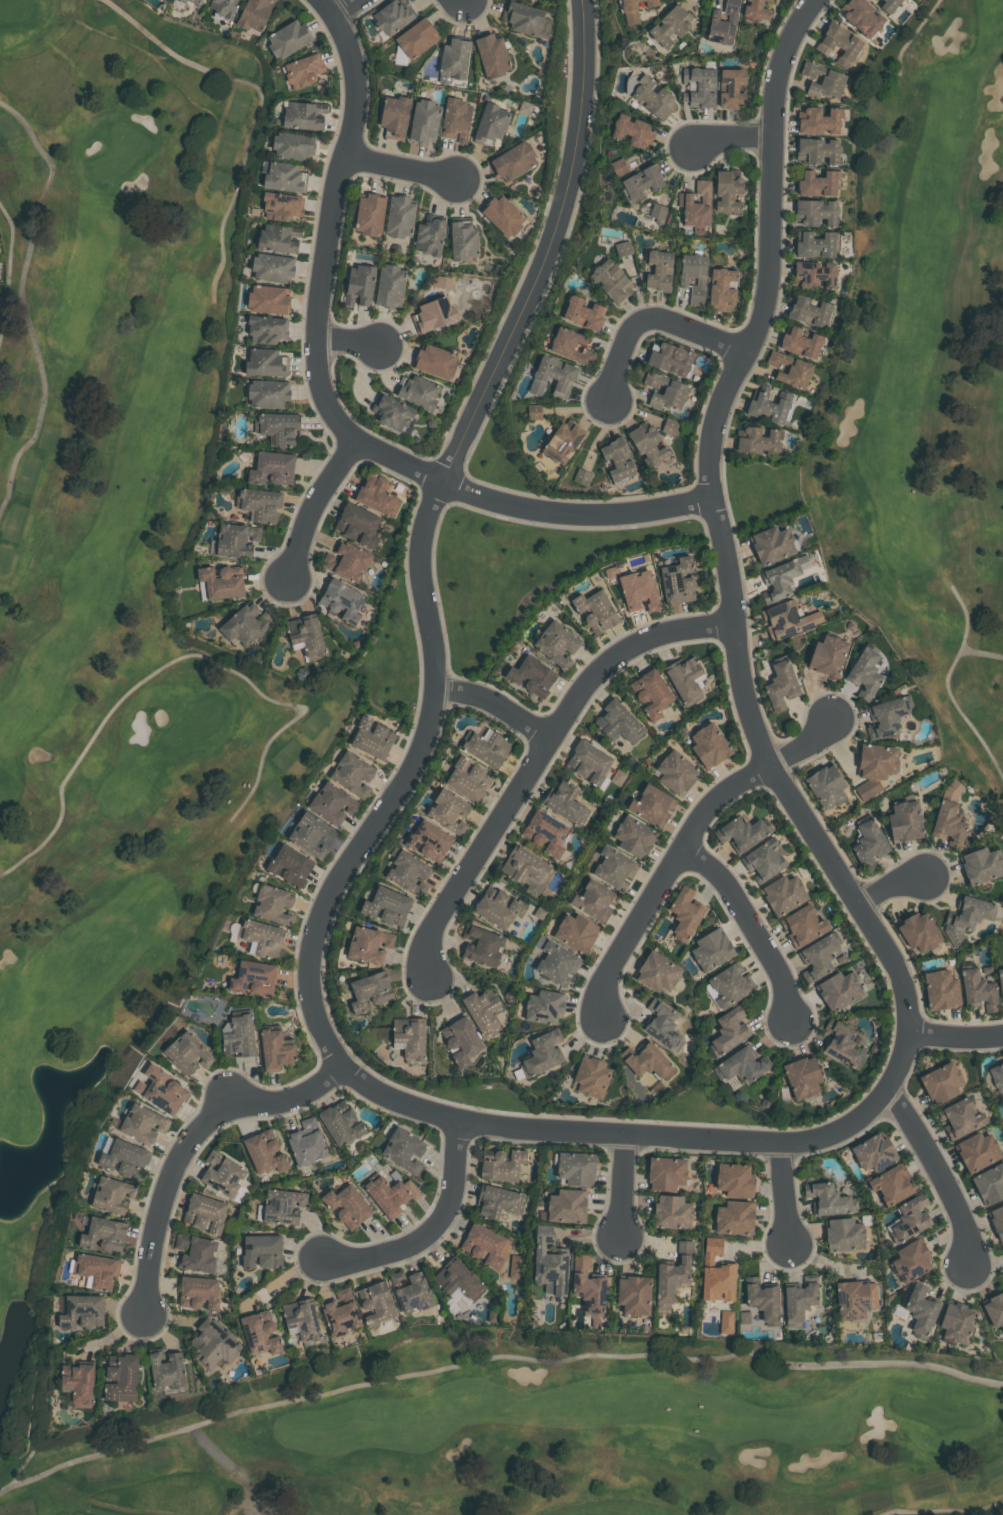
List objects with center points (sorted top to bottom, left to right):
building: (870, 0)
building: (184, 1)
building: (196, 1)
building: (888, 5)
road: (346, 7)
building: (226, 8)
building: (634, 9)
building: (755, 10)
building: (394, 15)
building: (254, 16)
building: (861, 17)
building: (526, 18)
building: (722, 25)
building: (670, 27)
building: (417, 37)
building: (289, 38)
building: (839, 44)
building: (491, 54)
building: (455, 57)
building: (304, 68)
building: (822, 80)
building: (698, 86)
building: (731, 86)
building: (654, 97)
building: (526, 106)
building: (302, 114)
building: (394, 116)
building: (455, 119)
building: (819, 119)
building: (425, 121)
building: (490, 121)
building: (634, 129)
road: (732, 139)
building: (293, 145)
building: (818, 150)
building: (514, 160)
road: (407, 166)
building: (284, 176)
building: (643, 181)
building: (817, 182)
building: (728, 191)
building: (282, 204)
building: (696, 204)
building: (816, 212)
building: (370, 213)
building: (659, 213)
building: (503, 215)
building: (400, 217)
building: (278, 236)
building: (430, 236)
building: (462, 240)
building: (815, 244)
building: (624, 248)
road: (771, 249)
building: (272, 266)
building: (659, 270)
building: (814, 273)
building: (693, 276)
building: (612, 281)
building: (359, 284)
building: (389, 285)
building: (722, 289)
building: (268, 298)
building: (809, 310)
building: (583, 313)
building: (434, 314)
road: (653, 318)
building: (267, 330)
road: (349, 341)
building: (800, 342)
building: (571, 346)
building: (670, 358)
building: (434, 361)
building: (265, 363)
building: (790, 369)
park: (924, 374)
building: (552, 377)
building: (417, 391)
building: (268, 393)
building: (665, 393)
road: (329, 404)
building: (768, 406)
building: (391, 411)
building: (671, 425)
building: (277, 427)
building: (757, 439)
building: (564, 441)
building: (649, 443)
building: (618, 458)
building: (272, 468)
building: (582, 476)
building: (376, 494)
building: (258, 504)
road: (315, 506)
building: (357, 525)
road: (424, 539)
building: (235, 541)
building: (771, 544)
building: (346, 562)
building: (781, 578)
building: (677, 581)
building: (221, 582)
building: (639, 591)
building: (341, 600)
building: (595, 610)
building: (787, 619)
building: (246, 625)
building: (306, 637)
building: (556, 644)
building: (828, 655)
building: (865, 673)
building: (531, 675)
building: (685, 679)
building: (781, 685)
building: (651, 694)
road: (498, 703)
building: (887, 716)
building: (618, 722)
building: (371, 737)
building: (709, 745)
building: (487, 748)
road: (539, 755)
park: (162, 761)
building: (589, 763)
building: (874, 767)
building: (676, 772)
building: (352, 773)
building: (467, 779)
building: (827, 786)
building: (954, 787)
building: (332, 803)
building: (565, 804)
building: (651, 805)
building: (449, 811)
building: (905, 821)
building: (948, 825)
building: (545, 832)
building: (742, 832)
building: (310, 835)
building: (634, 836)
building: (429, 841)
road: (684, 842)
building: (869, 844)
building: (763, 859)
building: (290, 865)
building: (981, 865)
building: (614, 868)
building: (526, 869)
building: (408, 872)
road: (893, 890)
building: (783, 893)
building: (594, 901)
building: (272, 903)
building: (385, 906)
building: (498, 907)
building: (685, 913)
building: (968, 917)
road: (755, 924)
building: (803, 925)
building: (918, 931)
building: (576, 932)
building: (260, 936)
building: (369, 943)
building: (481, 946)
building: (712, 949)
building: (818, 956)
building: (555, 961)
building: (657, 972)
building: (251, 978)
building: (1000, 983)
building: (726, 987)
building: (941, 989)
building: (370, 990)
building: (839, 990)
building: (978, 991)
building: (544, 1006)
building: (483, 1011)
building: (663, 1025)
building: (729, 1031)
road: (957, 1035)
building: (239, 1036)
building: (409, 1038)
building: (461, 1040)
building: (842, 1044)
building: (274, 1050)
building: (542, 1053)
building: (187, 1054)
road: (904, 1059)
building: (647, 1061)
building: (742, 1065)
building: (997, 1075)
building: (591, 1077)
building: (802, 1077)
building: (941, 1082)
building: (164, 1092)
building: (960, 1117)
building: (143, 1123)
building: (340, 1124)
road: (190, 1143)
building: (305, 1143)
building: (404, 1149)
building: (977, 1151)
building: (874, 1152)
building: (265, 1153)
building: (124, 1159)
building: (501, 1166)
building: (576, 1168)
building: (665, 1173)
road: (944, 1173)
building: (224, 1175)
building: (735, 1180)
building: (989, 1183)
building: (891, 1184)
road: (625, 1187)
building: (114, 1194)
building: (387, 1195)
road: (788, 1199)
building: (827, 1199)
building: (498, 1202)
building: (282, 1206)
building: (347, 1206)
building: (567, 1206)
building: (672, 1212)
building: (204, 1213)
building: (734, 1218)
building: (910, 1218)
building: (997, 1220)
road: (432, 1232)
building: (104, 1234)
building: (844, 1234)
building: (486, 1246)
building: (262, 1250)
building: (195, 1253)
building: (912, 1260)
building: (549, 1261)
building: (515, 1267)
building: (94, 1271)
building: (717, 1272)
building: (673, 1275)
building: (457, 1280)
building: (587, 1286)
building: (410, 1292)
building: (198, 1293)
building: (634, 1294)
building: (854, 1298)
building: (762, 1300)
building: (798, 1302)
building: (376, 1303)
building: (994, 1309)
building: (921, 1310)
building: (80, 1312)
building: (341, 1313)
building: (745, 1315)
building: (303, 1320)
building: (727, 1321)
building: (956, 1321)
building: (260, 1333)
building: (215, 1343)
road: (494, 1359)
building: (165, 1369)
building: (121, 1378)
building: (78, 1384)
road: (234, 1468)

